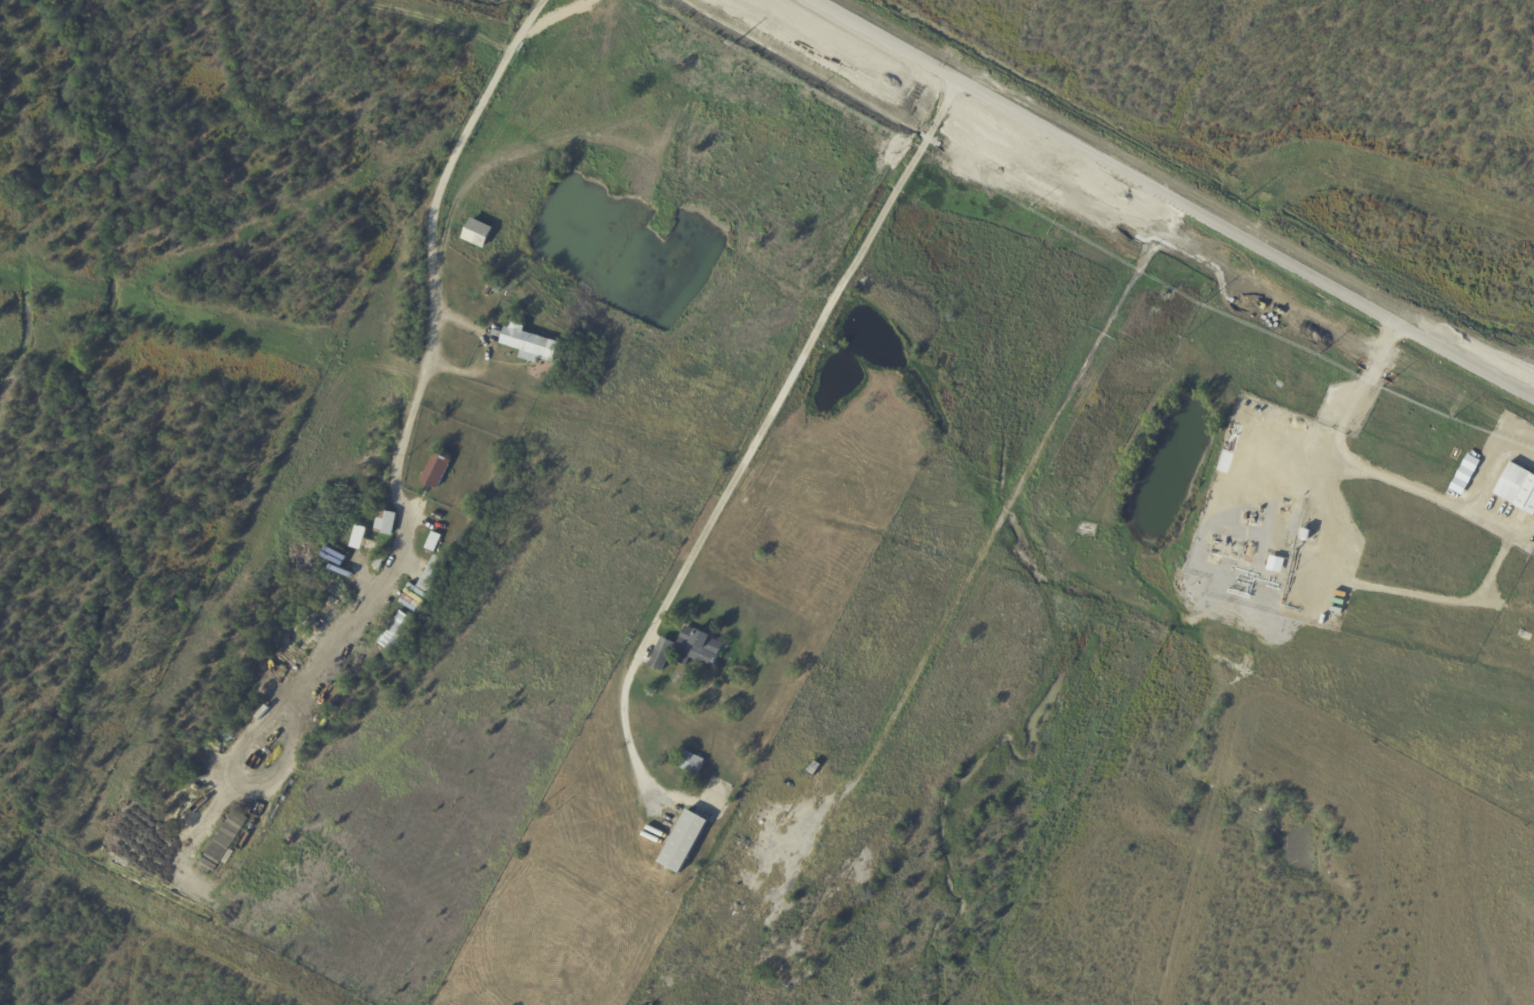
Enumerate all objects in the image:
road: (1176, 198)
building: (479, 234)
building: (491, 288)
building: (499, 289)
building: (530, 345)
building: (488, 358)
road: (431, 359)
road: (1369, 376)
building: (533, 395)
road: (767, 429)
road: (1493, 467)
building: (437, 472)
building: (1518, 487)
road: (1431, 499)
building: (439, 516)
building: (387, 524)
building: (1306, 534)
building: (434, 543)
building: (369, 546)
building: (381, 561)
building: (1277, 566)
building: (432, 576)
road: (1361, 583)
building: (398, 634)
building: (698, 649)
building: (363, 656)
building: (663, 656)
building: (691, 762)
building: (815, 769)
building: (685, 841)
building: (741, 849)

